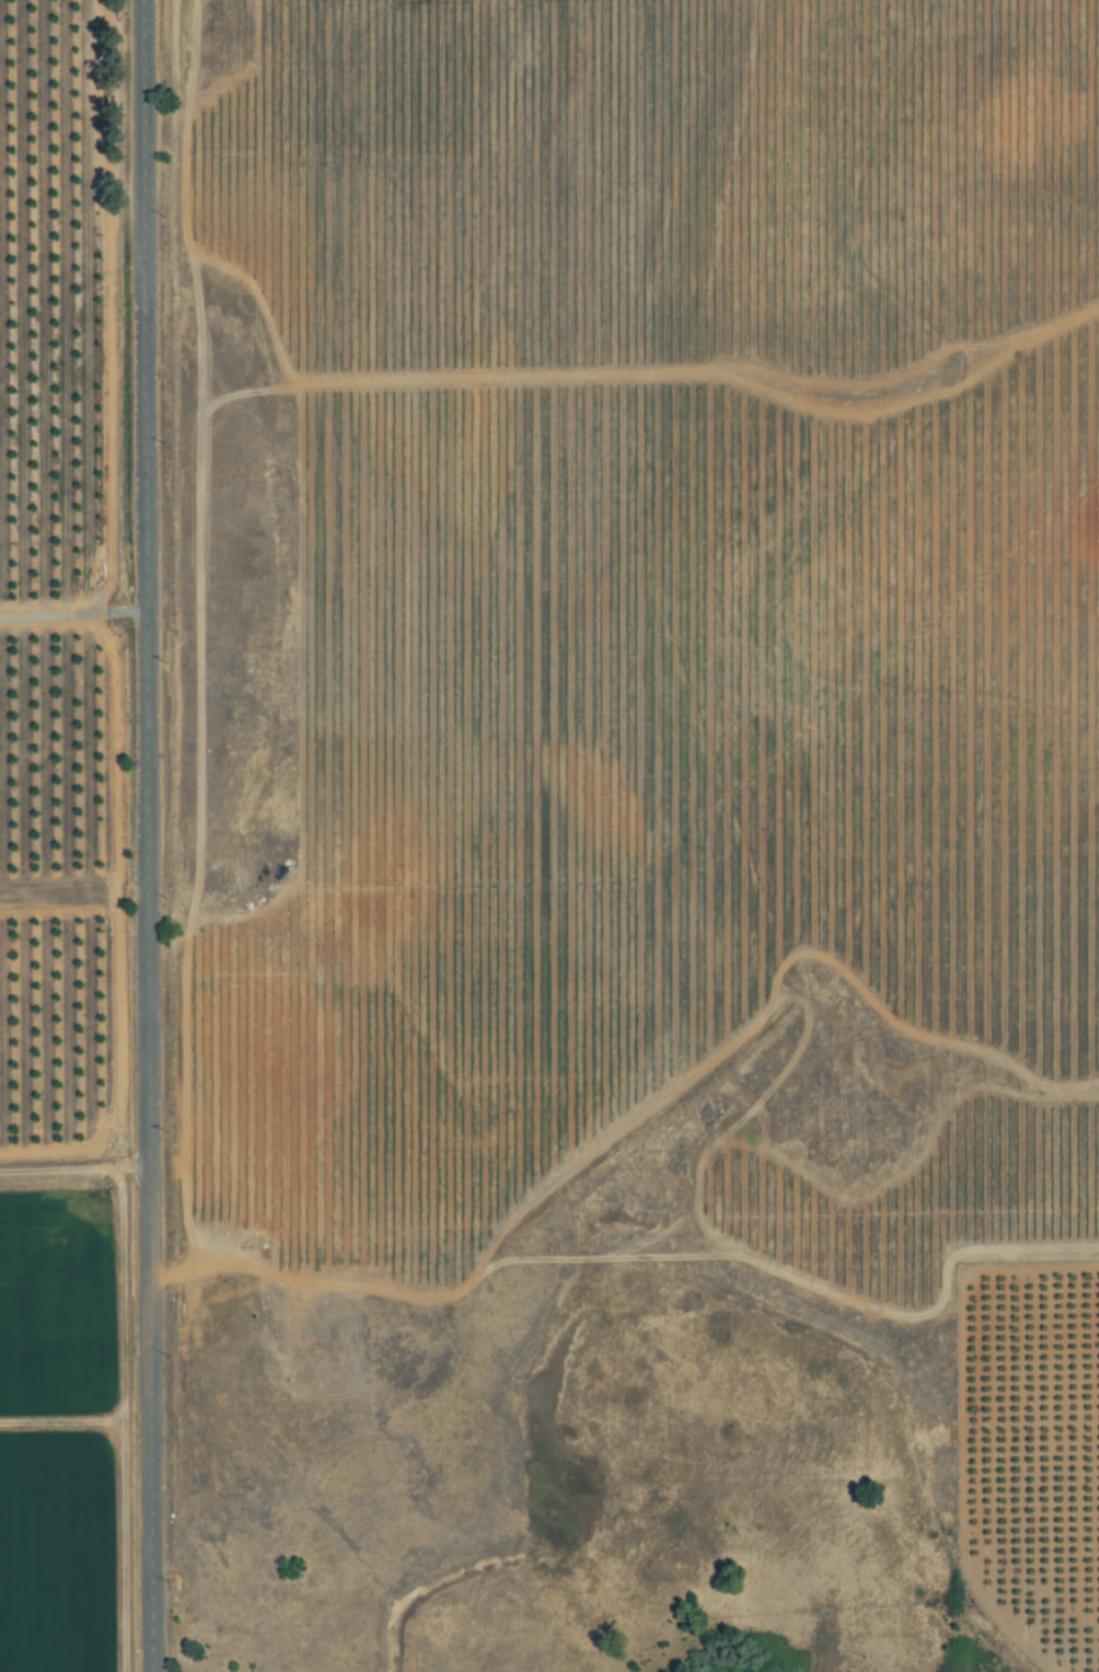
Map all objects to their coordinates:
road: (72, 612)
road: (146, 835)
road: (73, 1172)

